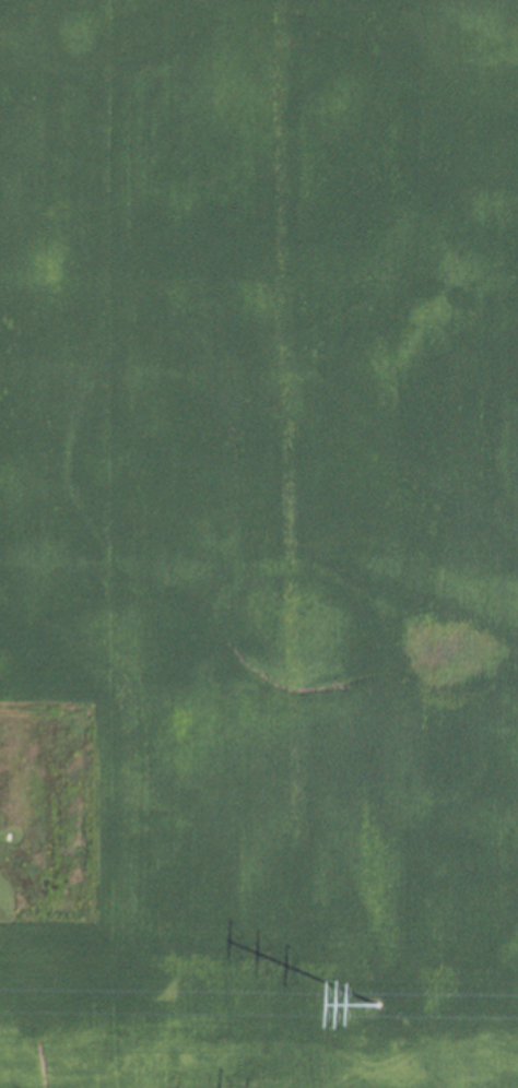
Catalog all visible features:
power tower: (378, 993)

